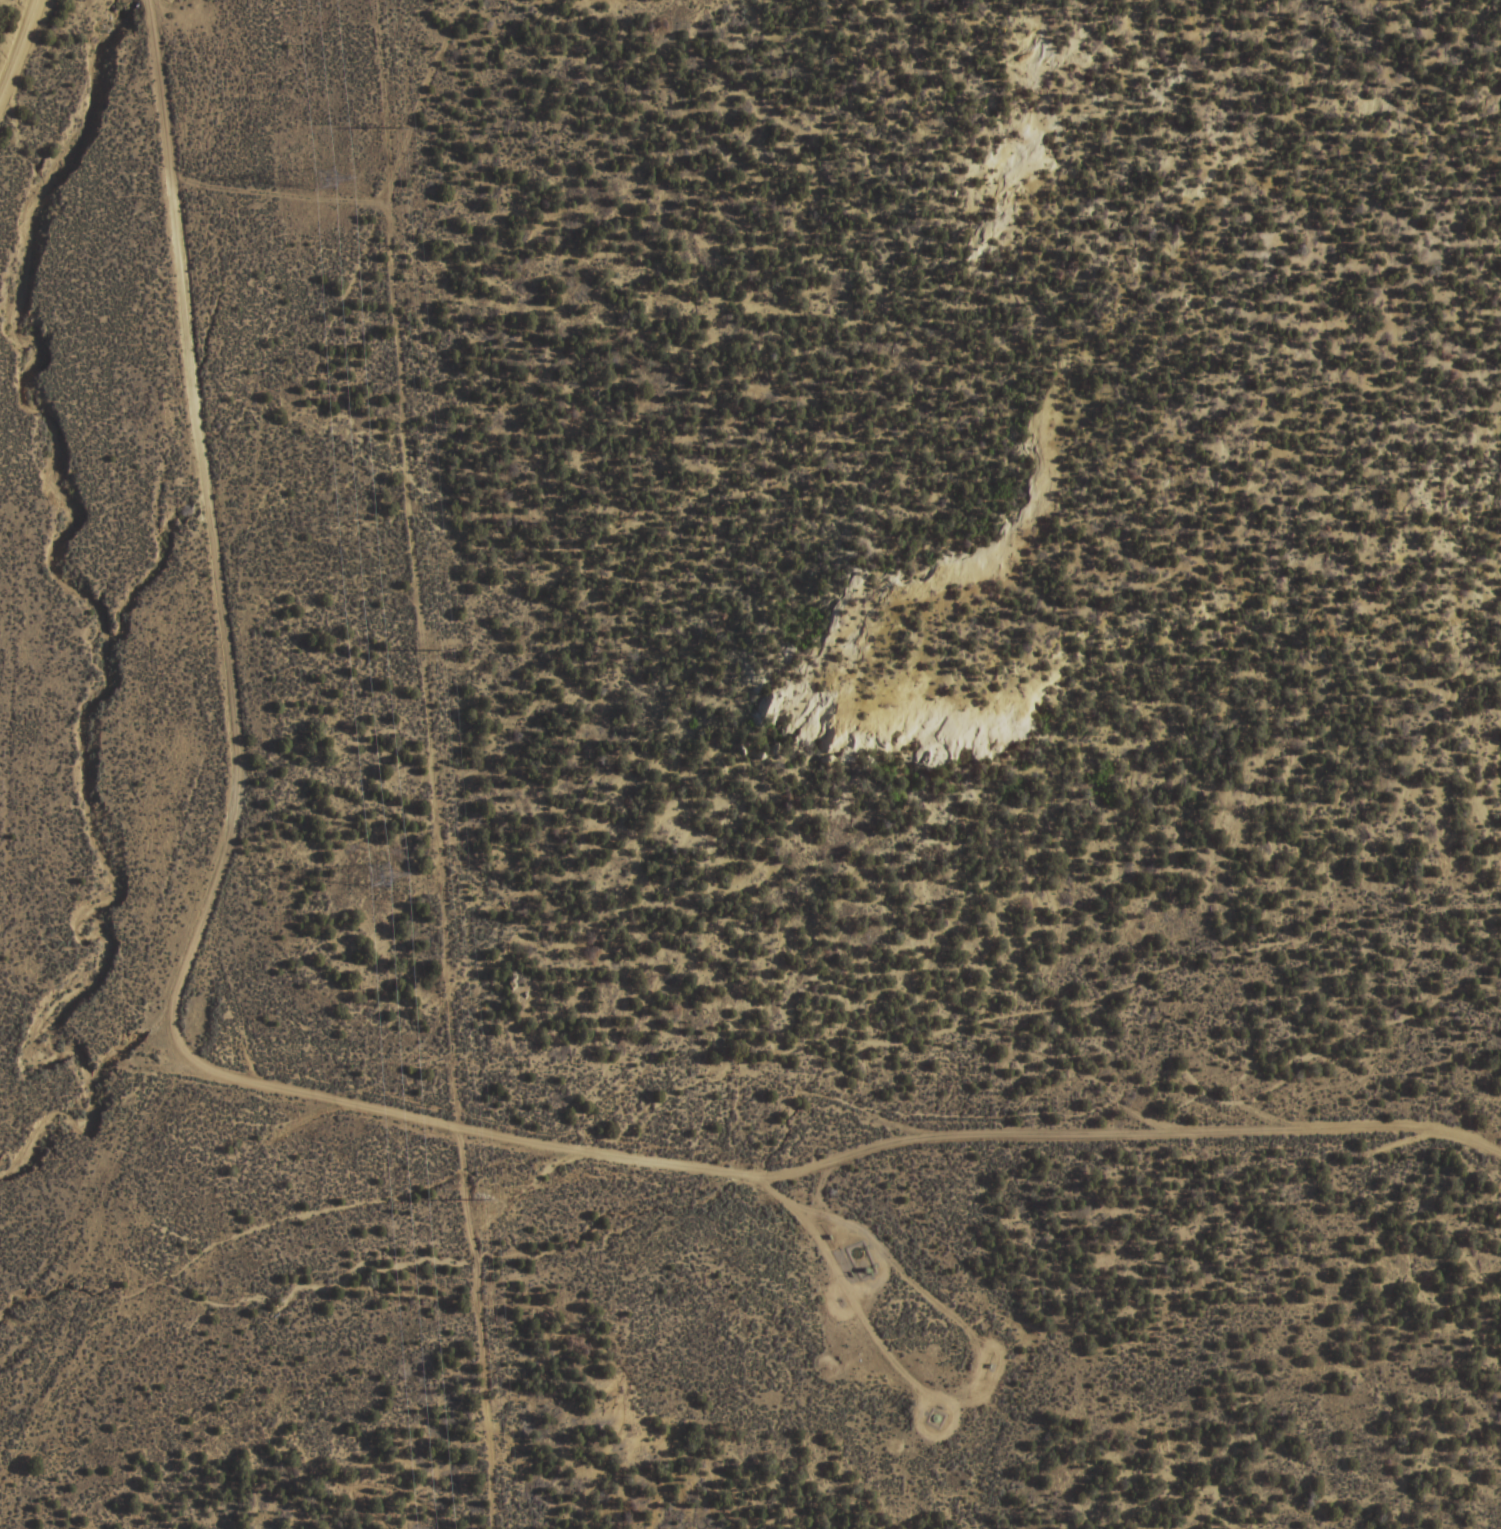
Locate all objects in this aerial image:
road: (19, 50)
power tower: (321, 179)
river: (89, 619)
road: (239, 705)
power tower: (372, 873)
road: (824, 1163)

